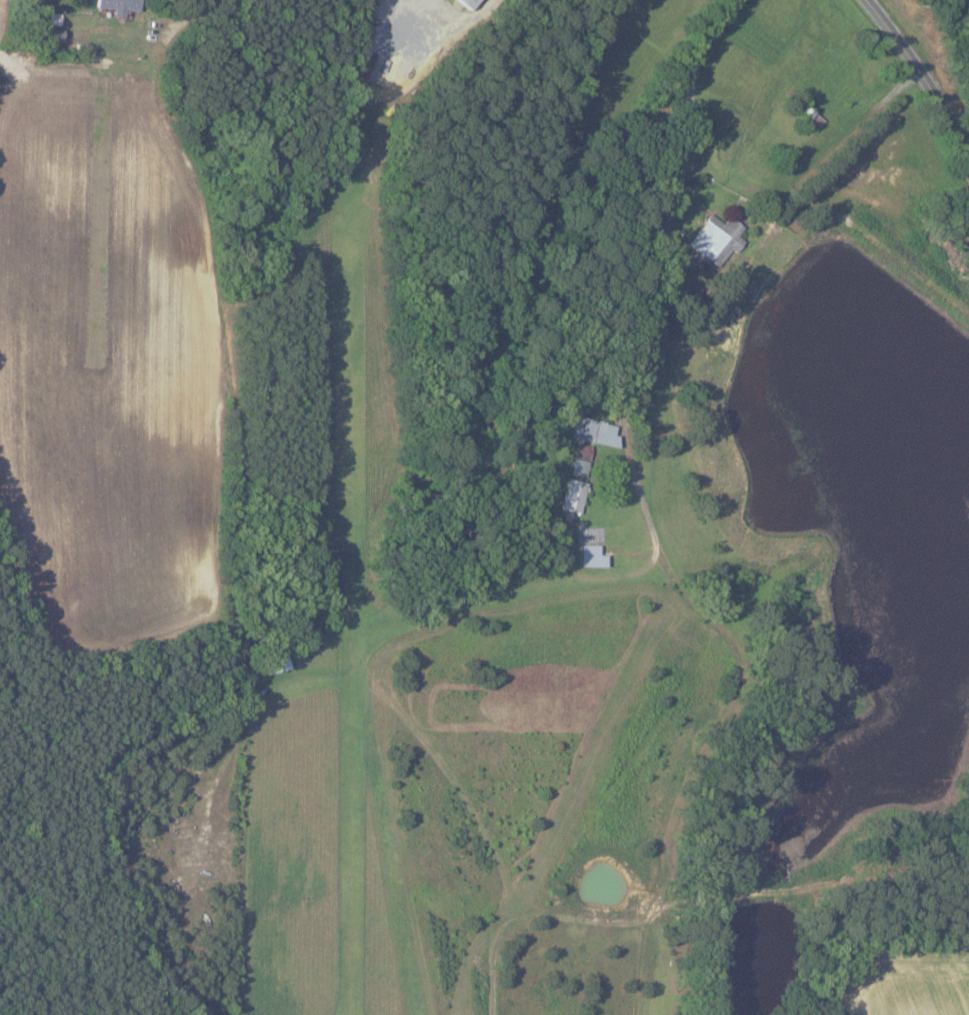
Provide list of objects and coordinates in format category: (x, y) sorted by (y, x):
building: (467, 3)
building: (119, 6)
road: (924, 70)
building: (716, 239)
building: (594, 431)
building: (579, 467)
building: (573, 496)
building: (591, 556)
road: (681, 580)
building: (276, 664)

